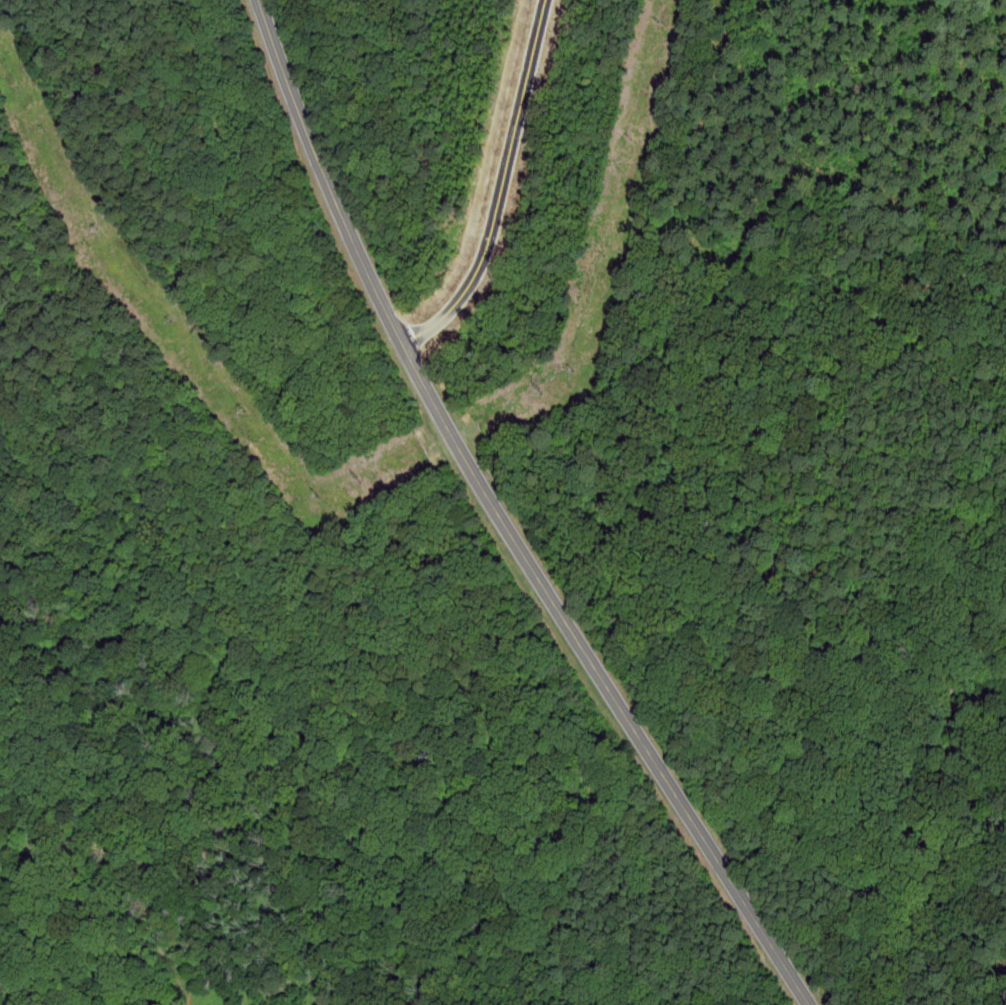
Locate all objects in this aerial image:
road: (501, 186)
road: (502, 519)

